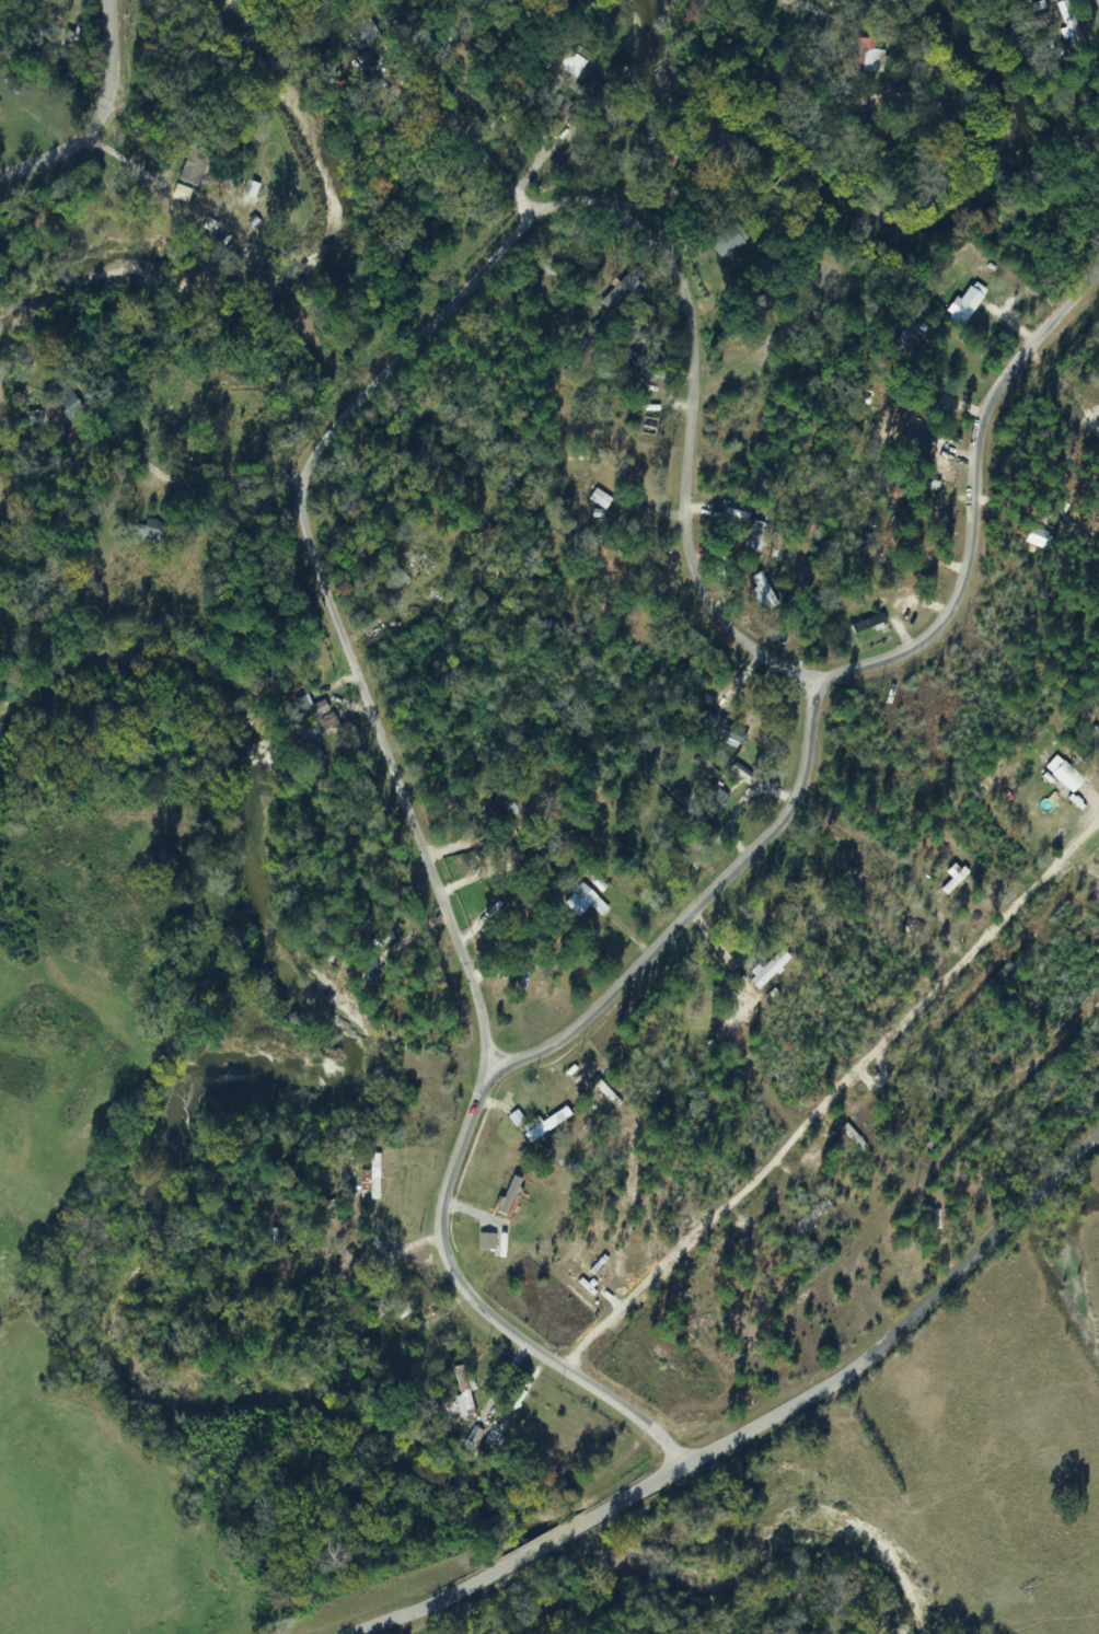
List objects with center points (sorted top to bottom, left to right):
road: (808, 9)
building: (363, 33)
building: (869, 56)
building: (572, 63)
building: (556, 107)
road: (106, 125)
road: (474, 128)
building: (602, 139)
building: (196, 166)
building: (251, 189)
building: (726, 239)
building: (963, 306)
road: (426, 332)
building: (613, 372)
road: (1066, 383)
building: (67, 403)
building: (34, 417)
building: (906, 432)
road: (165, 490)
building: (600, 499)
building: (152, 532)
building: (755, 535)
building: (867, 631)
building: (306, 729)
building: (474, 738)
building: (1066, 777)
building: (576, 904)
road: (707, 917)
road: (837, 1114)
building: (546, 1122)
building: (852, 1137)
building: (372, 1178)
building: (485, 1241)
road: (334, 1294)
road: (910, 1341)
building: (704, 1356)
building: (462, 1391)
road: (541, 1562)

